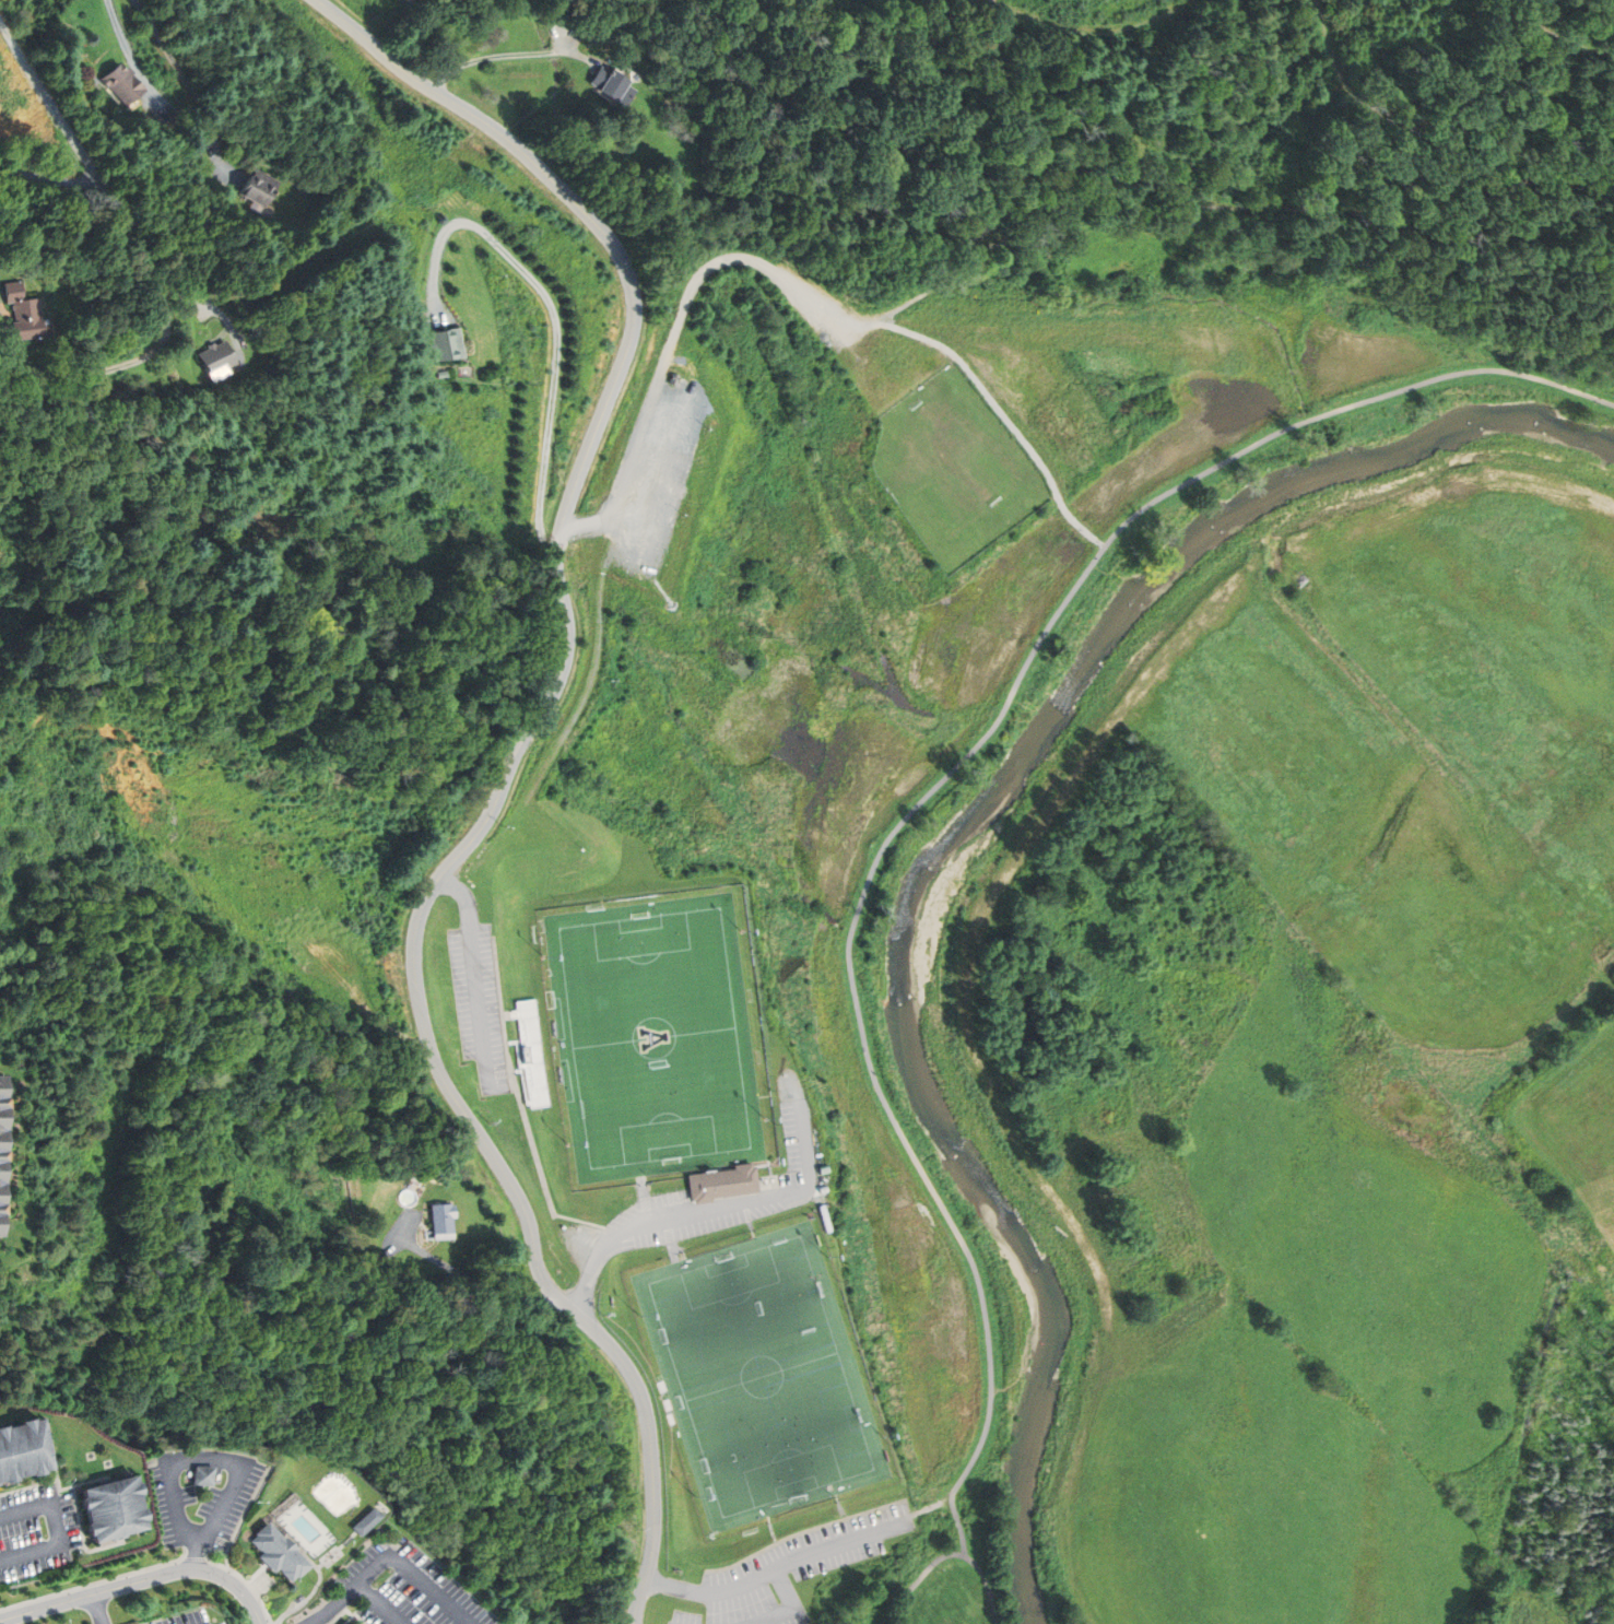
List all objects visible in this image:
road: (1094, 33)
road: (1558, 35)
road: (165, 46)
road: (503, 54)
building: (122, 84)
building: (613, 85)
road: (1434, 138)
road: (48, 177)
building: (259, 187)
road: (1215, 205)
road: (138, 252)
road: (0, 297)
building: (23, 311)
road: (555, 321)
road: (672, 343)
building: (447, 344)
parking lot: (869, 348)
building: (214, 357)
building: (672, 379)
road: (1006, 414)
park: (954, 469)
parking lot: (656, 475)
river: (1287, 484)
park: (949, 675)
road: (559, 740)
road: (505, 780)
road: (944, 781)
road: (476, 969)
parking lot: (480, 1004)
park: (656, 1038)
building: (531, 1055)
road: (500, 1074)
road: (522, 1109)
building: (4, 1157)
river: (964, 1157)
building: (721, 1182)
parking lot: (712, 1201)
road: (706, 1209)
building: (440, 1220)
park: (761, 1376)
building: (20, 1450)
road: (204, 1458)
road: (50, 1460)
building: (202, 1476)
road: (87, 1481)
road: (71, 1490)
parking lot: (204, 1494)
road: (180, 1504)
road: (225, 1506)
building: (108, 1508)
road: (929, 1508)
building: (363, 1521)
road: (60, 1529)
parking lot: (37, 1531)
road: (103, 1547)
road: (214, 1550)
building: (281, 1552)
road: (200, 1554)
road: (950, 1554)
road: (390, 1556)
road: (779, 1568)
parking lot: (801, 1570)
road: (260, 1575)
road: (110, 1580)
road: (143, 1581)
park: (955, 1584)
parking lot: (405, 1589)
road: (316, 1593)
road: (791, 1604)
road: (340, 1607)
road: (103, 1609)
road: (346, 1613)
road: (360, 1614)
parking lot: (185, 1619)
parking lot: (219, 1623)

